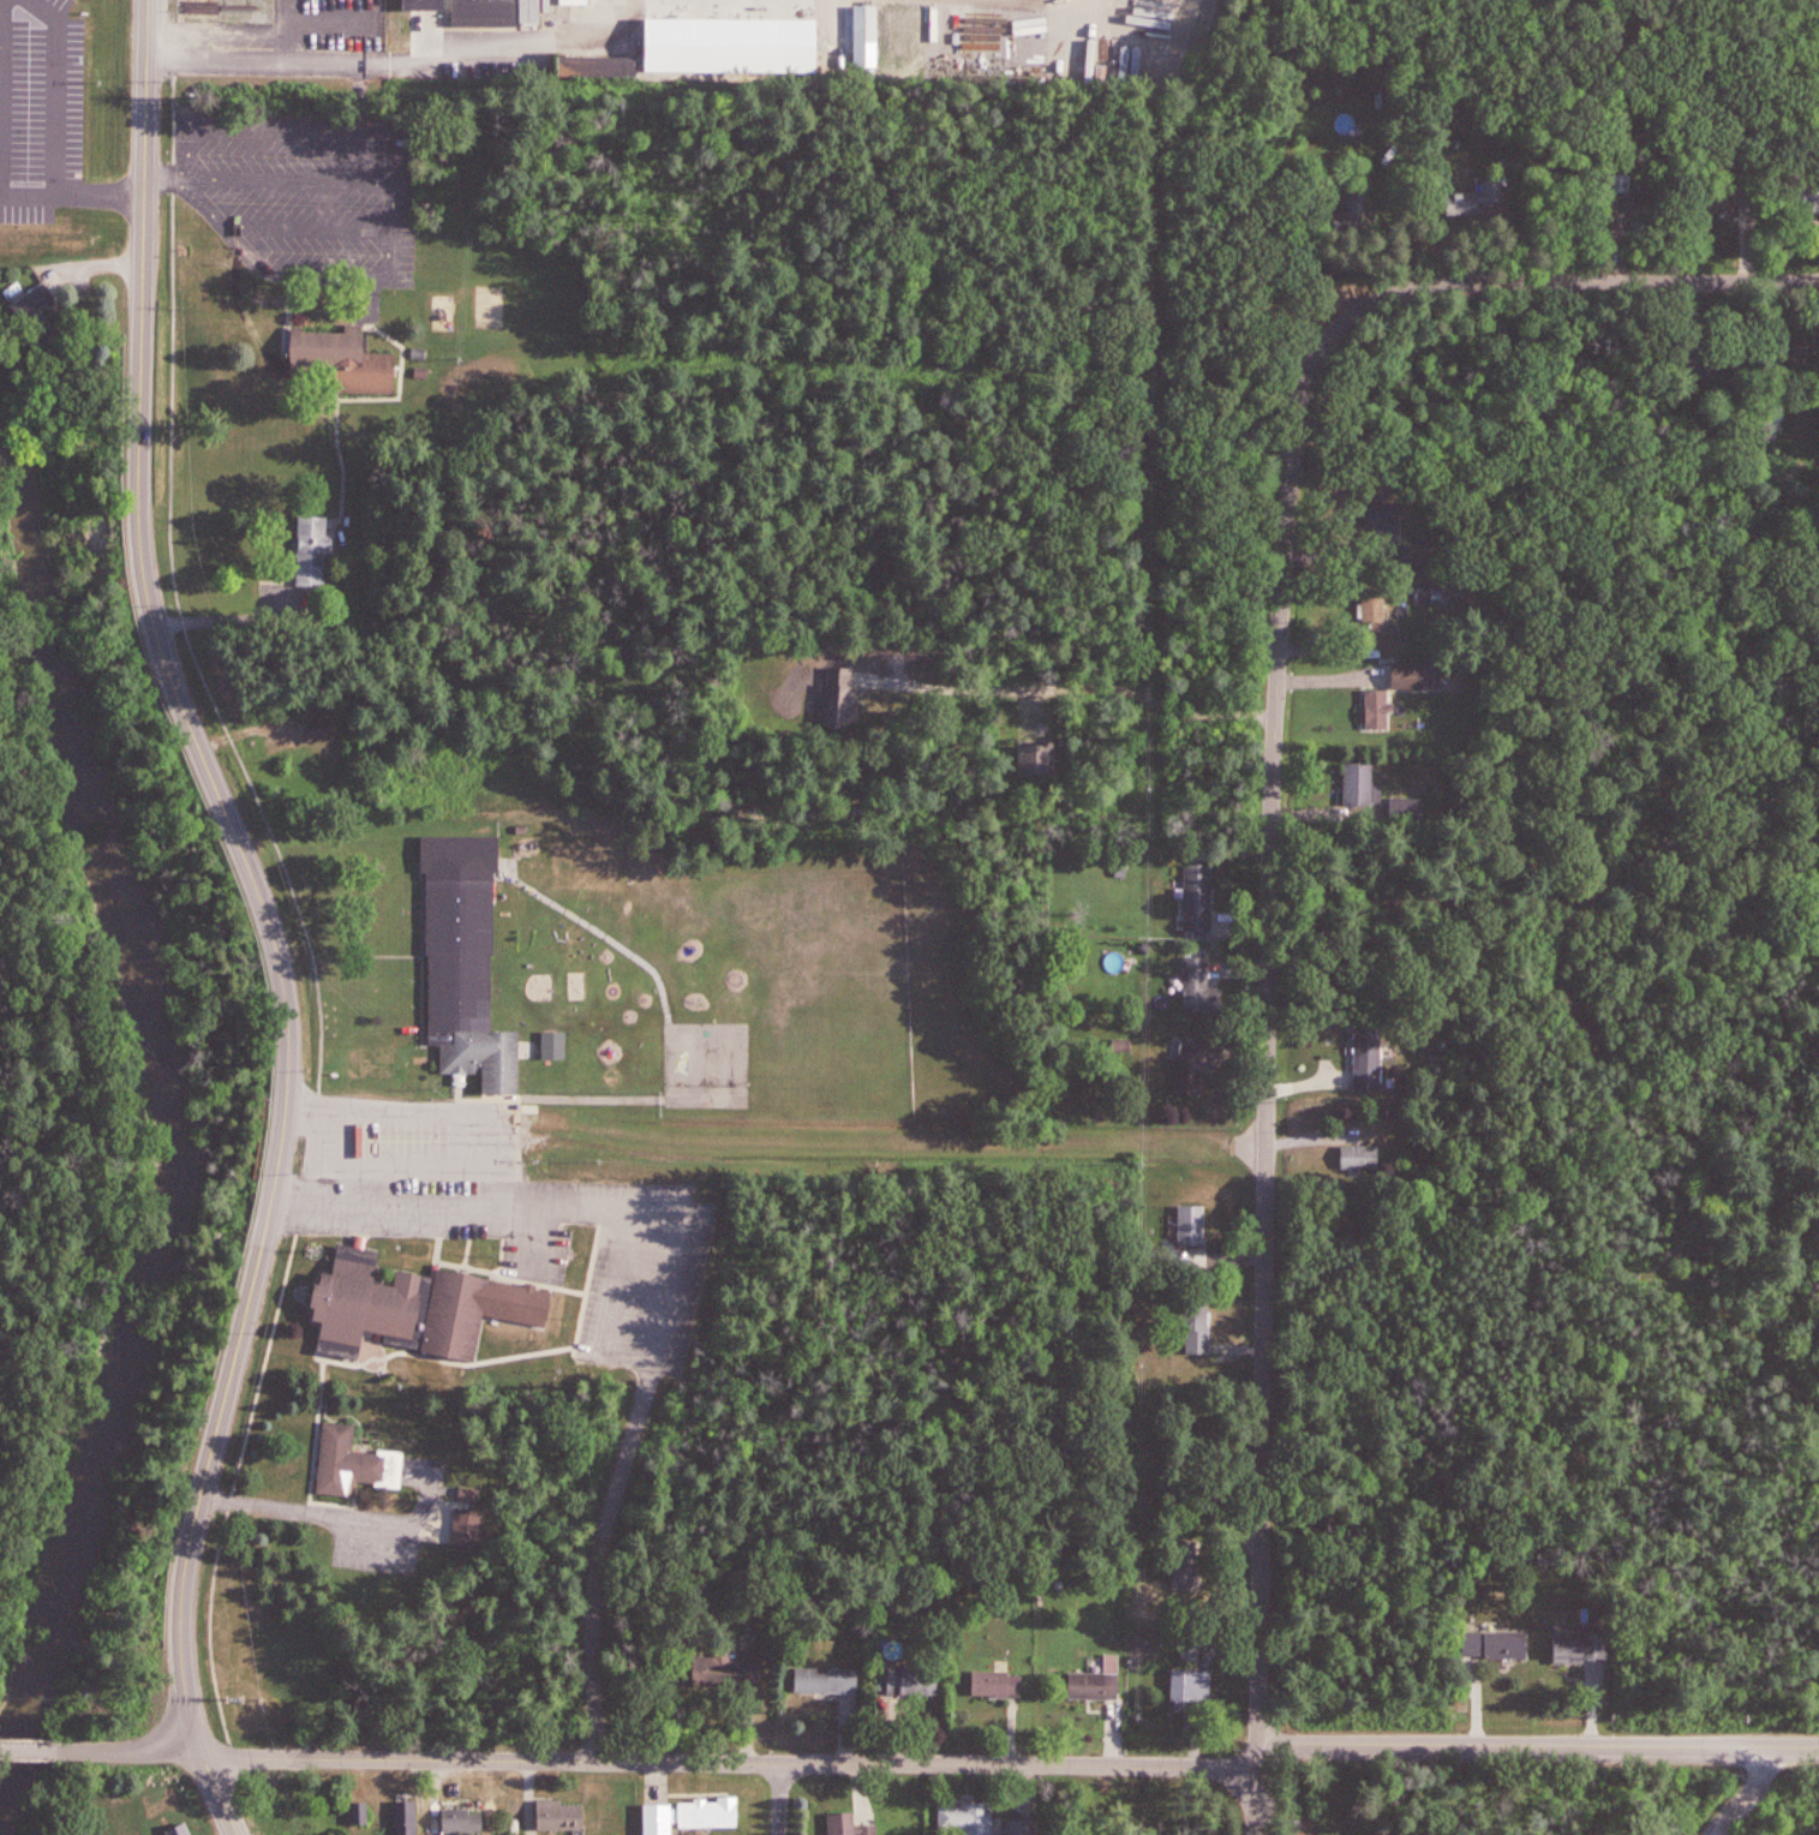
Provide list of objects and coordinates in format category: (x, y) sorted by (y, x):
building: (574, 0)
building: (486, 10)
building: (533, 11)
building: (423, 24)
building: (867, 35)
road: (207, 38)
building: (640, 66)
road: (56, 91)
building: (1389, 157)
road: (167, 177)
road: (292, 180)
building: (1624, 184)
building: (1801, 192)
building: (1719, 196)
road: (26, 197)
road: (98, 198)
building: (1649, 205)
road: (391, 207)
building: (1478, 207)
building: (1357, 213)
road: (306, 228)
building: (1723, 241)
road: (1512, 285)
building: (36, 319)
building: (1799, 355)
building: (346, 357)
building: (1382, 520)
building: (315, 551)
building: (1412, 554)
building: (1434, 594)
building: (280, 604)
building: (1380, 624)
building: (1418, 675)
road: (1049, 687)
building: (844, 709)
building: (1380, 709)
building: (323, 729)
building: (1034, 760)
building: (1362, 784)
building: (1198, 899)
road: (275, 916)
building: (468, 960)
building: (1202, 988)
building: (552, 1041)
building: (1369, 1056)
building: (1197, 1064)
road: (1273, 1088)
road: (432, 1110)
building: (1363, 1156)
river: (163, 1171)
road: (389, 1206)
building: (1191, 1225)
building: (420, 1309)
building: (1199, 1327)
road: (639, 1404)
building: (353, 1464)
road: (306, 1513)
building: (467, 1525)
building: (1185, 1578)
building: (1492, 1644)
building: (1192, 1650)
building: (1584, 1654)
building: (720, 1672)
building: (1196, 1680)
building: (869, 1681)
building: (995, 1684)
building: (1095, 1687)
road: (1539, 1744)
road: (28, 1749)
road: (1259, 1758)
road: (1548, 1758)
road: (658, 1759)
road: (1271, 1787)
park: (1656, 1789)
road: (1752, 1794)
road: (779, 1799)
road: (1258, 1805)
building: (558, 1813)
building: (692, 1813)
building: (405, 1815)
building: (358, 1816)
building: (963, 1821)
building: (460, 1823)
building: (844, 1824)
building: (1019, 1827)
building: (176, 1828)

